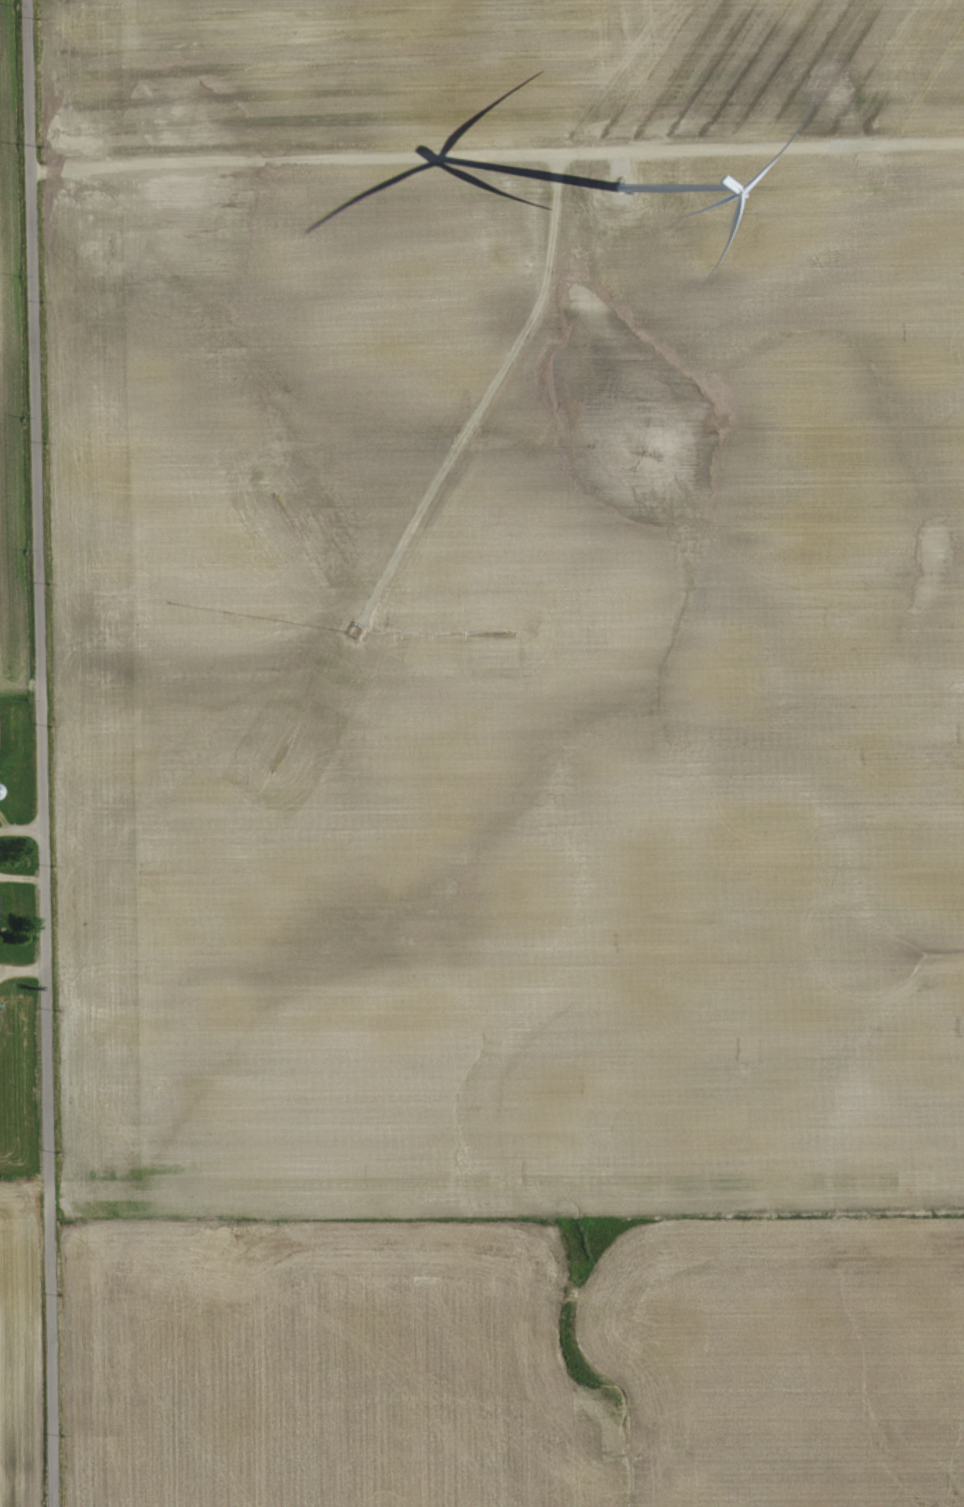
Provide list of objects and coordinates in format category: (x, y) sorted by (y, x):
wind turbine: (626, 190)
road: (40, 753)
road: (20, 824)
road: (21, 878)

